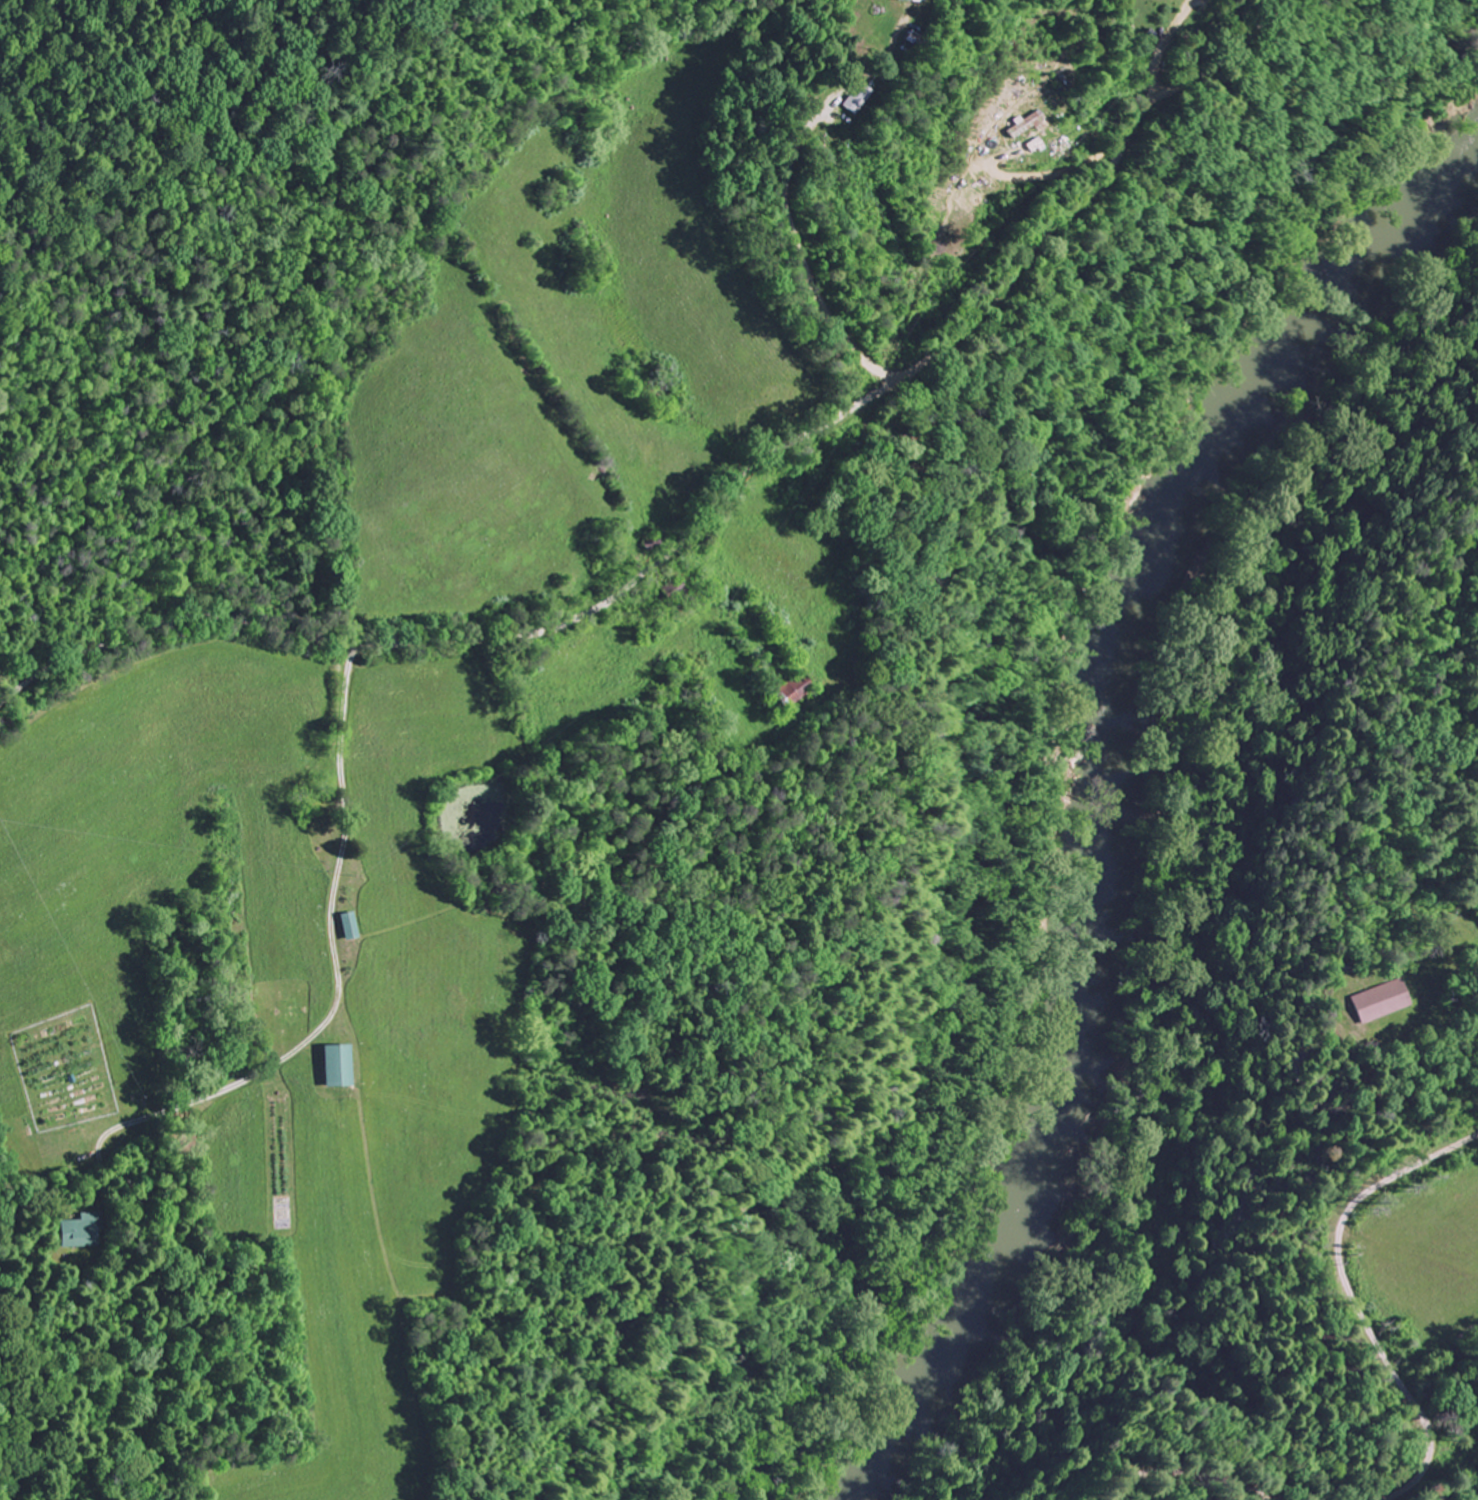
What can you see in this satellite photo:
building: (913, 0)
building: (912, 36)
road: (1163, 43)
building: (855, 98)
building: (1023, 122)
road: (996, 155)
road: (786, 196)
road: (714, 506)
river: (1106, 797)
building: (348, 921)
road: (337, 970)
building: (1383, 1003)
building: (335, 1062)
building: (79, 1227)
road: (1350, 1325)
road: (1208, 1495)

